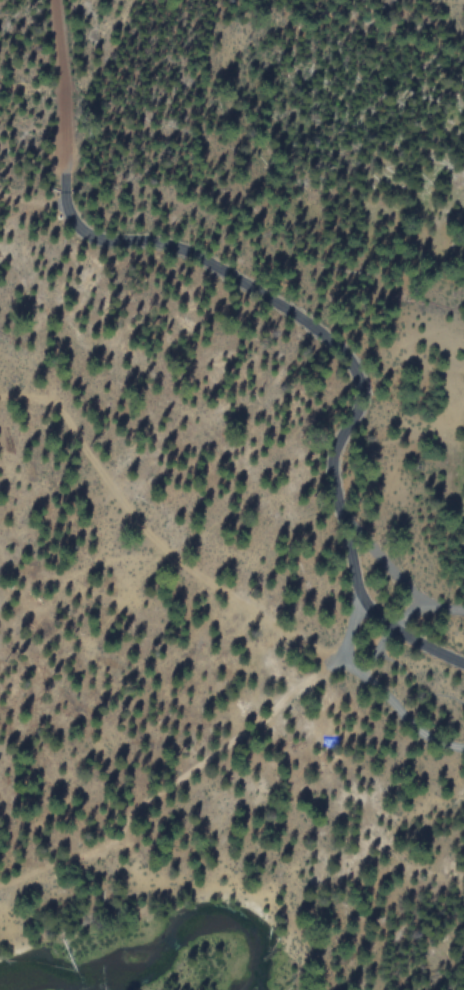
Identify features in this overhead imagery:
road: (62, 87)
road: (35, 175)
road: (345, 364)
river: (139, 956)

